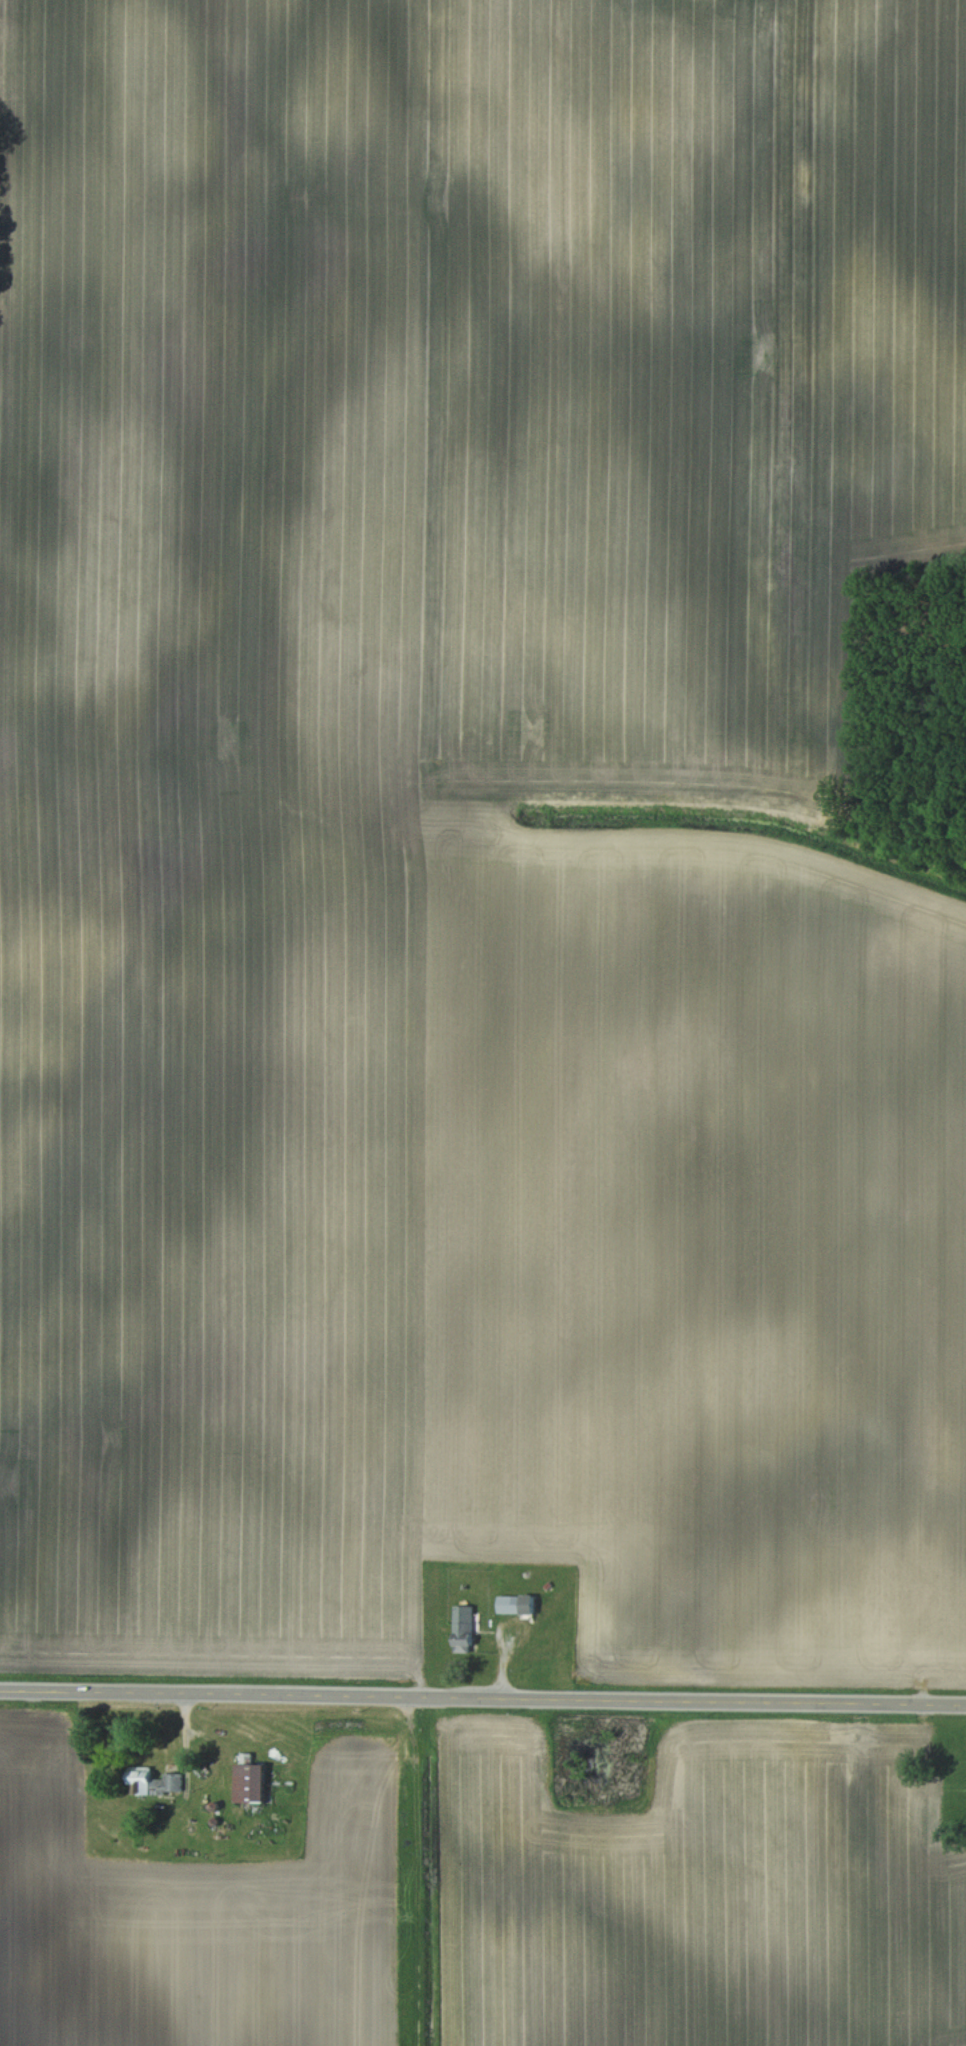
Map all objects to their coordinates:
building: (513, 1604)
building: (460, 1628)
road: (483, 1696)
building: (256, 1783)
building: (159, 1784)

